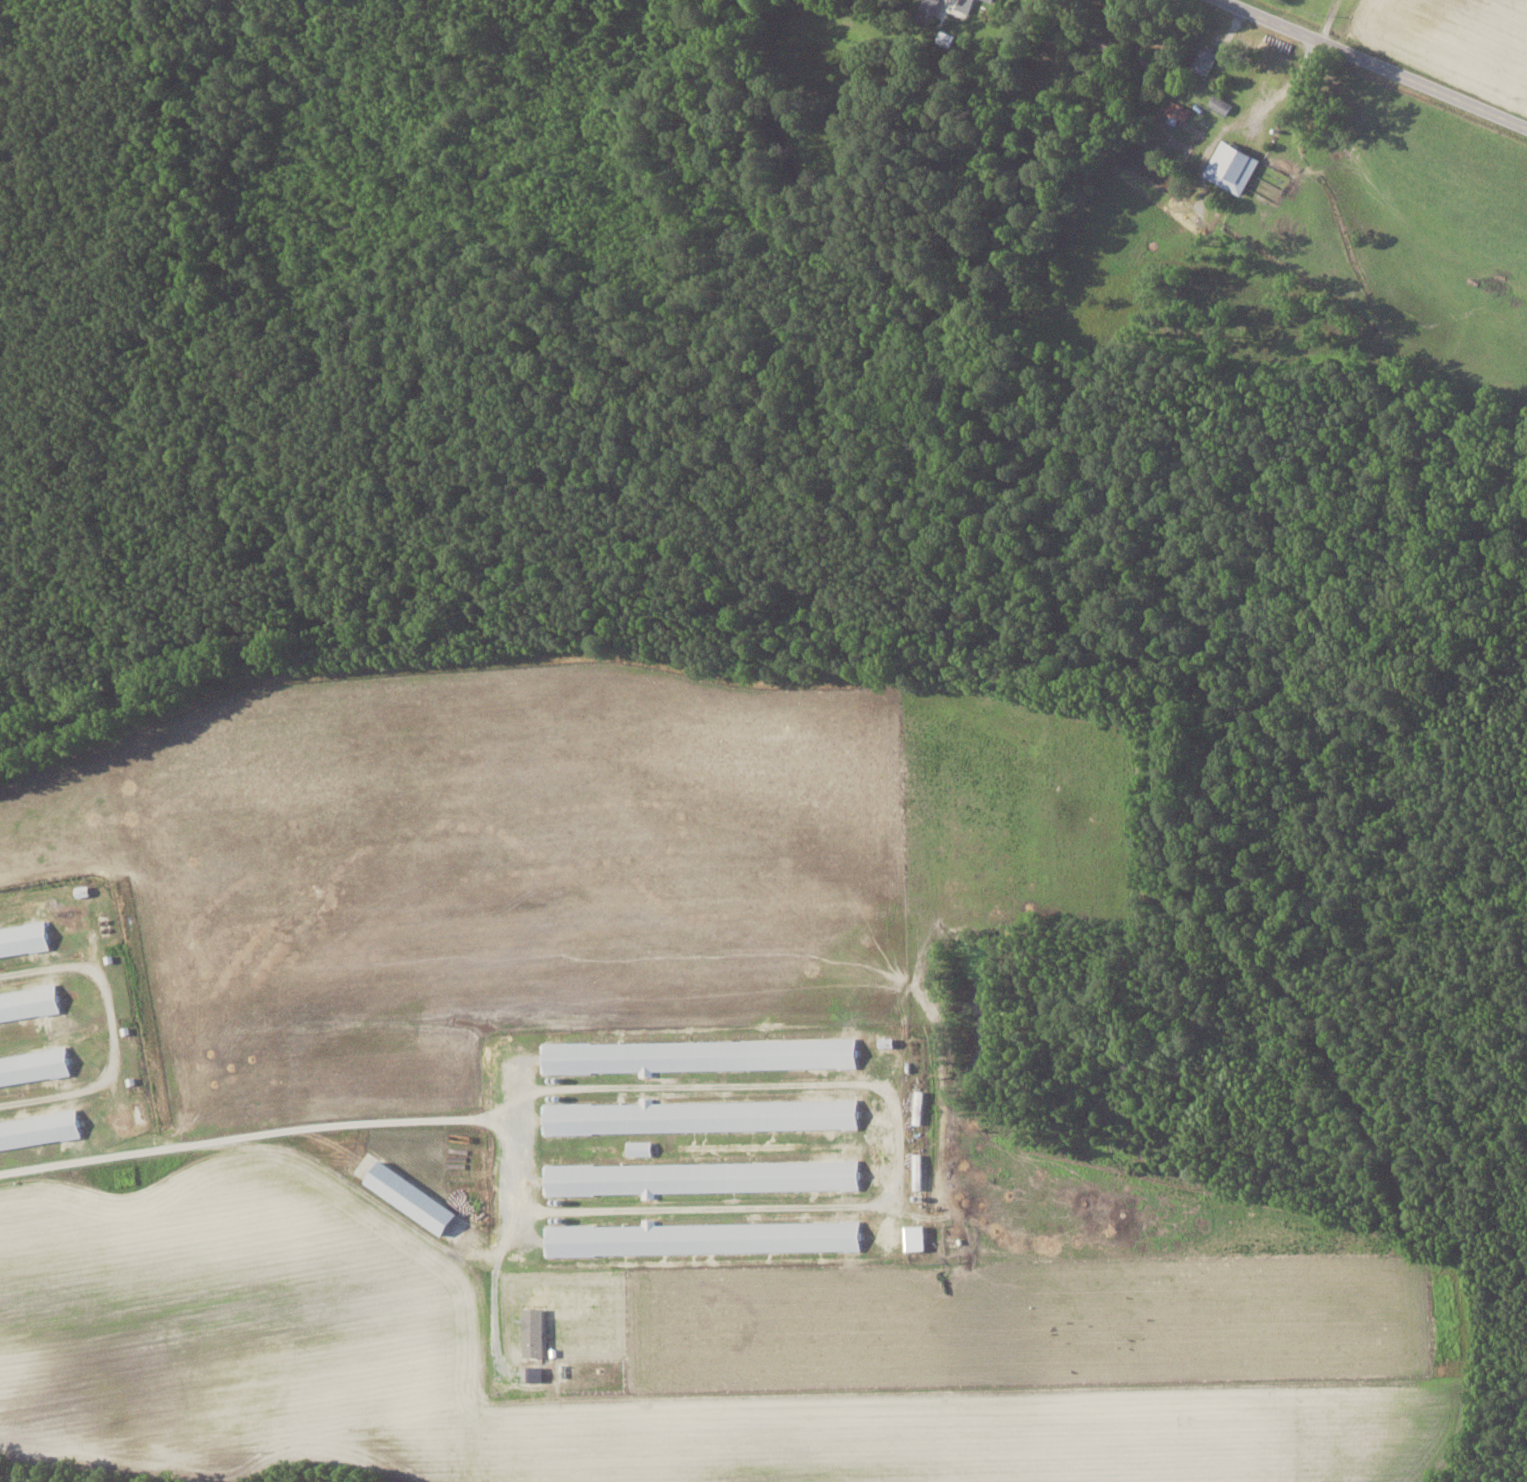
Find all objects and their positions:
building: (991, 0)
building: (965, 6)
building: (1205, 59)
road: (1368, 64)
building: (1220, 104)
building: (1177, 111)
building: (1232, 167)
building: (24, 938)
building: (30, 1003)
building: (890, 1043)
building: (701, 1056)
building: (35, 1064)
building: (920, 1107)
building: (702, 1116)
building: (40, 1129)
road: (290, 1129)
building: (641, 1148)
building: (920, 1171)
building: (705, 1176)
building: (411, 1197)
building: (919, 1237)
building: (705, 1238)

